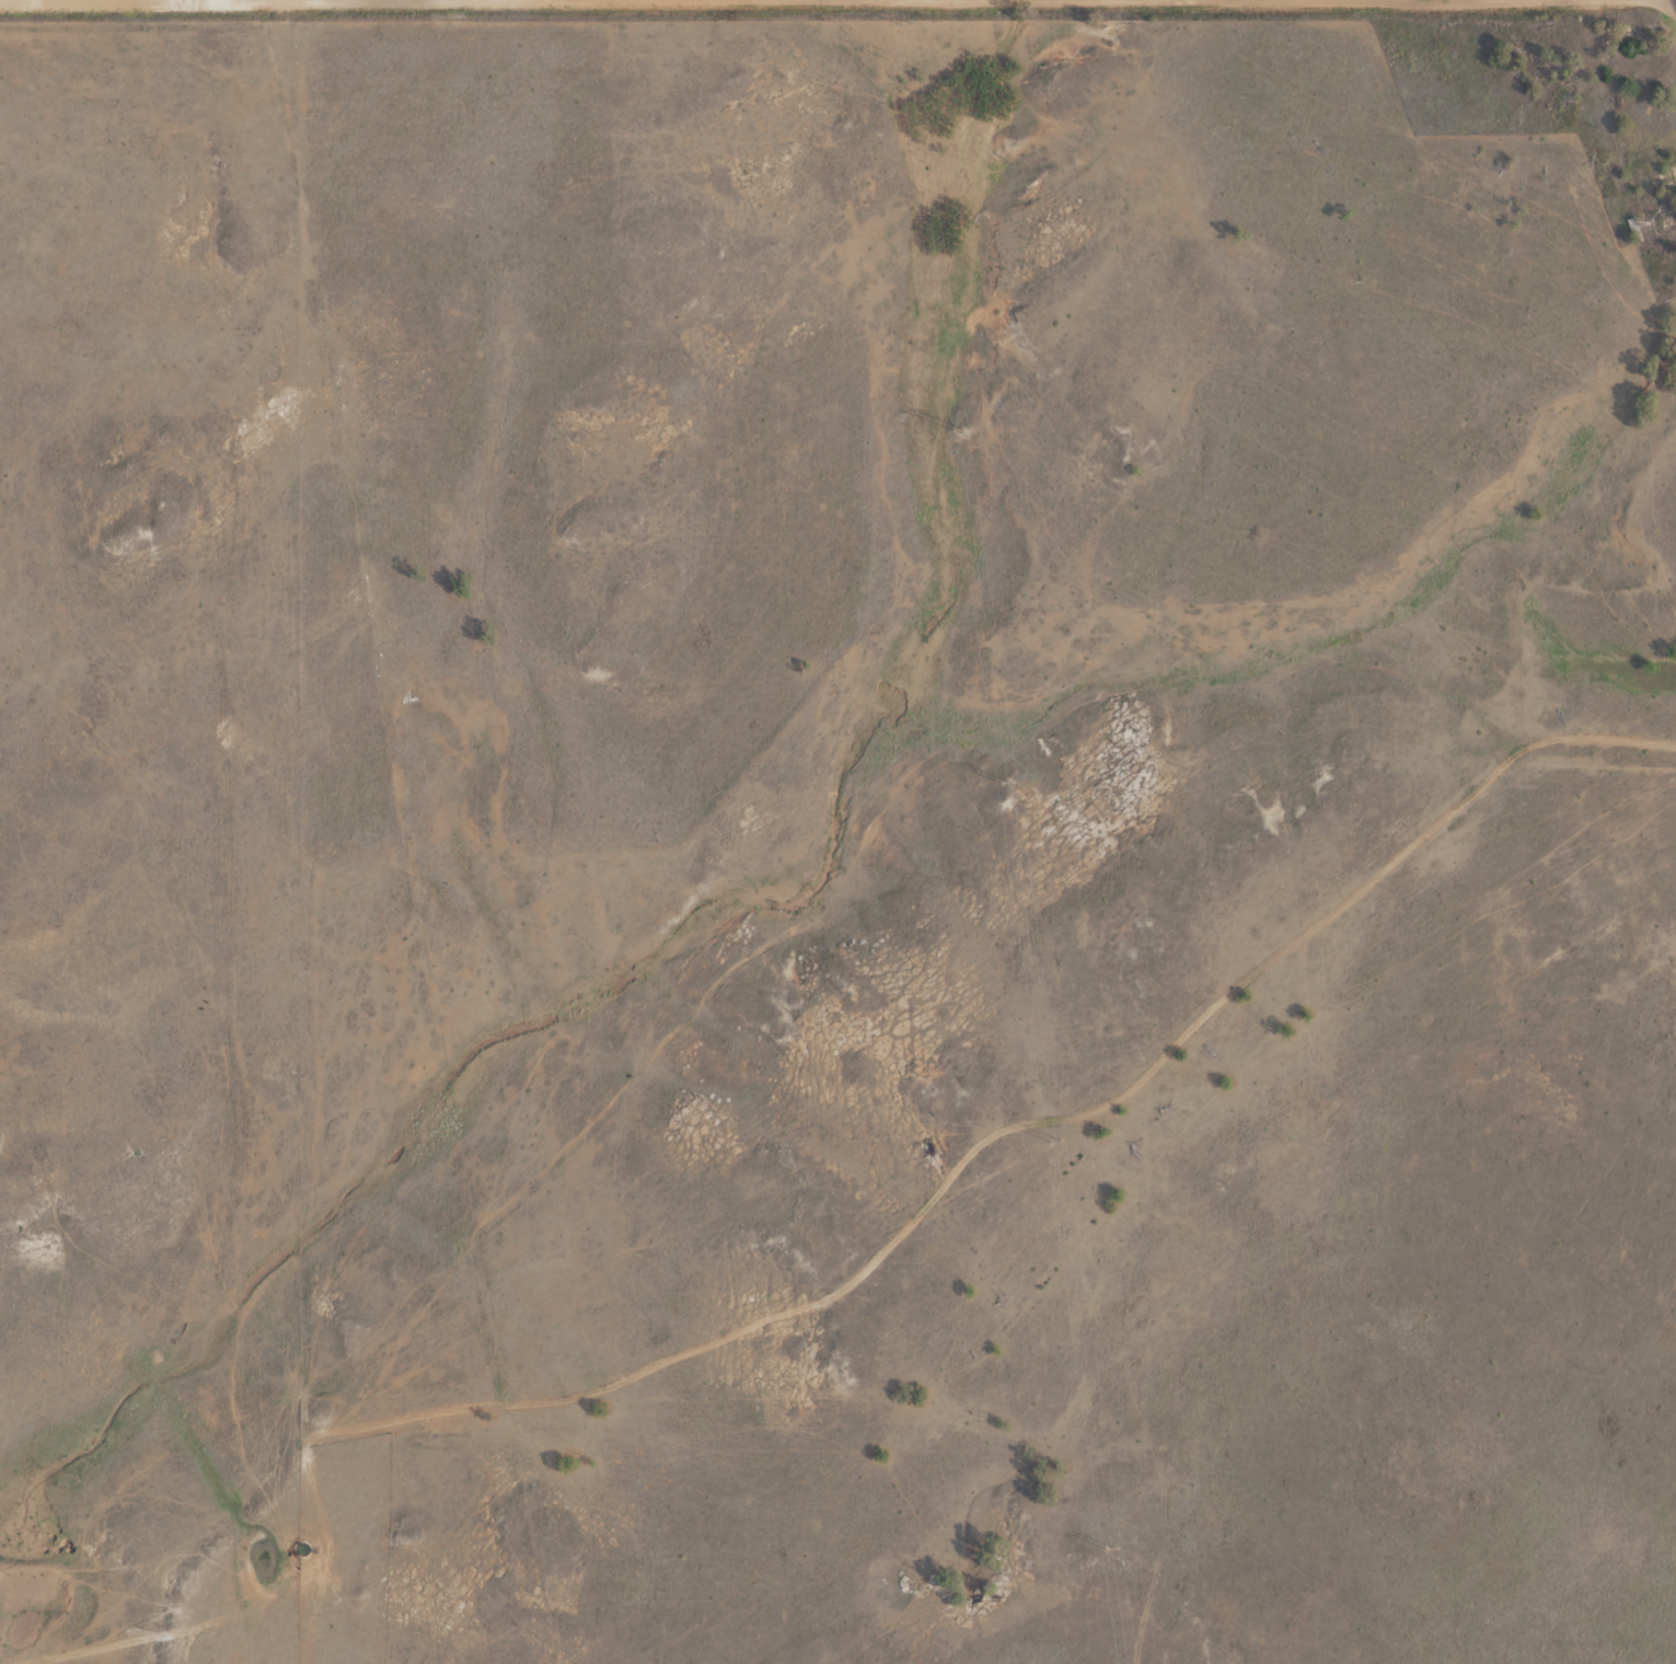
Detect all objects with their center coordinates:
road: (307, 1)
road: (1247, 1)
power tower: (906, 24)
power tower: (960, 429)
power tower: (1006, 782)
power tower: (1056, 1142)
road: (365, 1425)
power tower: (1110, 1549)

